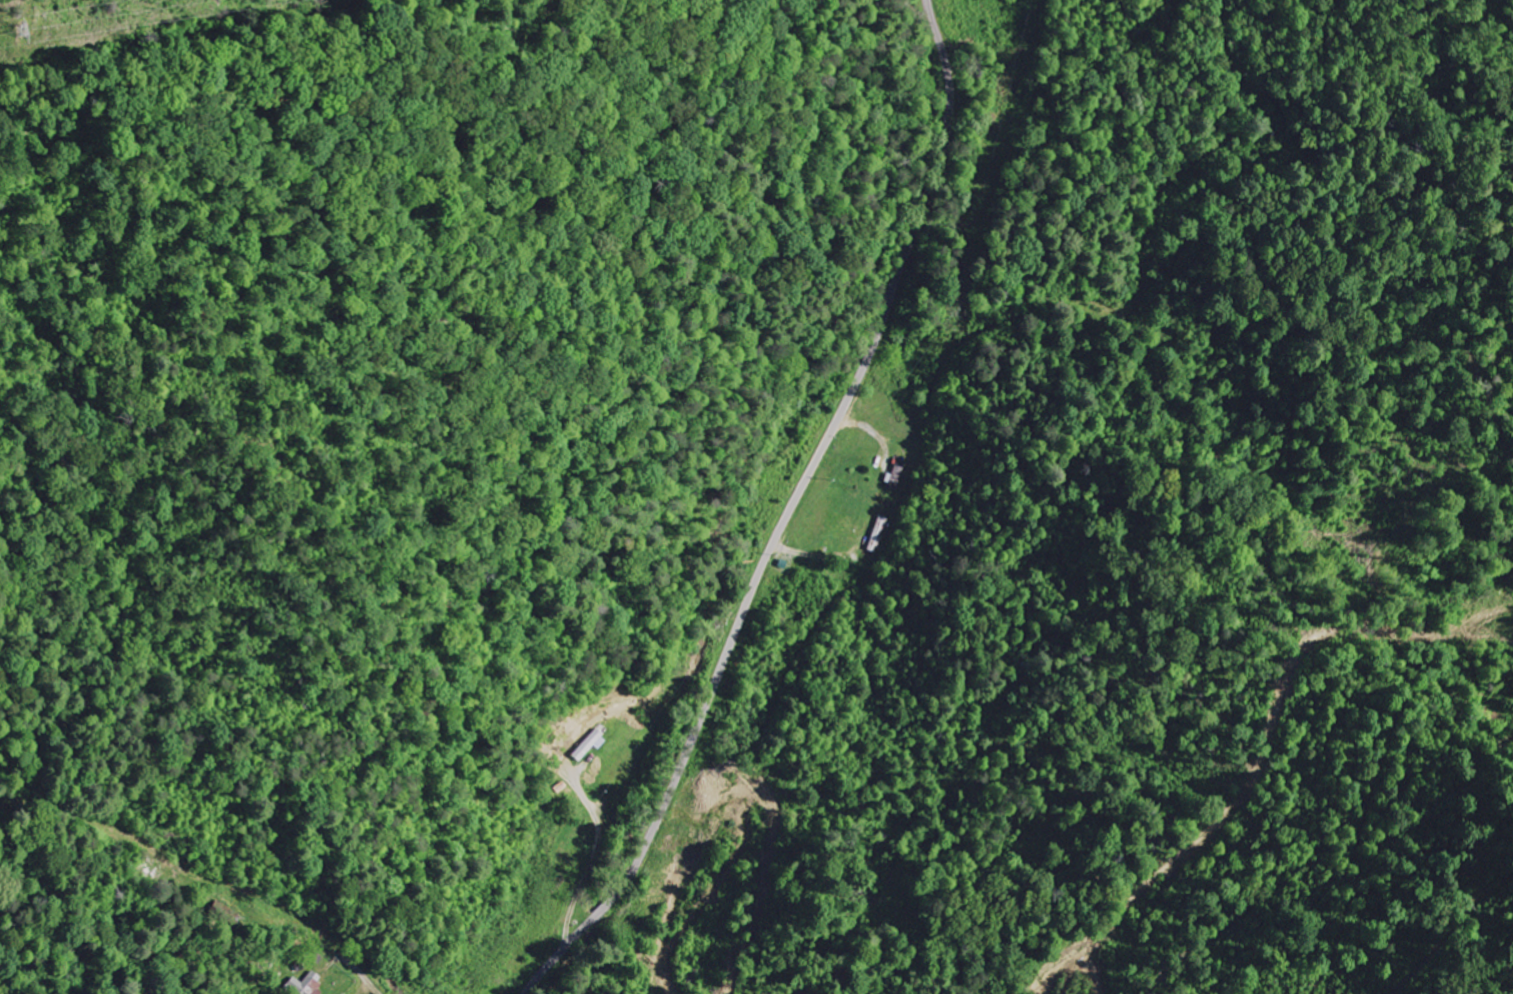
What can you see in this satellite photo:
building: (895, 474)
road: (789, 515)
building: (876, 534)
building: (592, 745)
road: (243, 863)
building: (307, 984)

